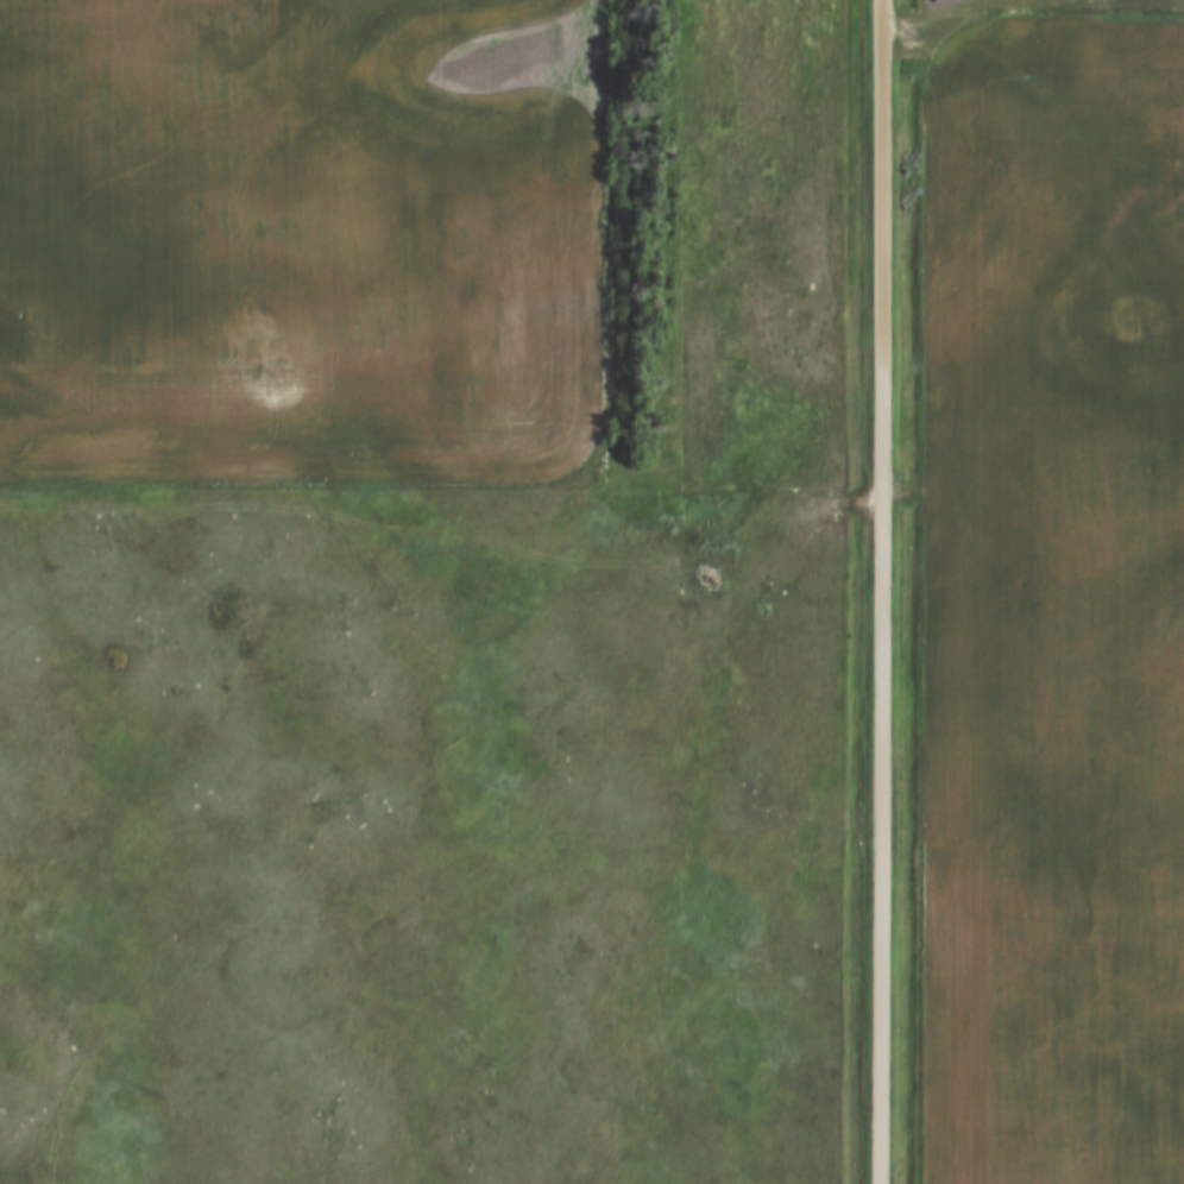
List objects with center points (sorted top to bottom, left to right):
road: (881, 591)

